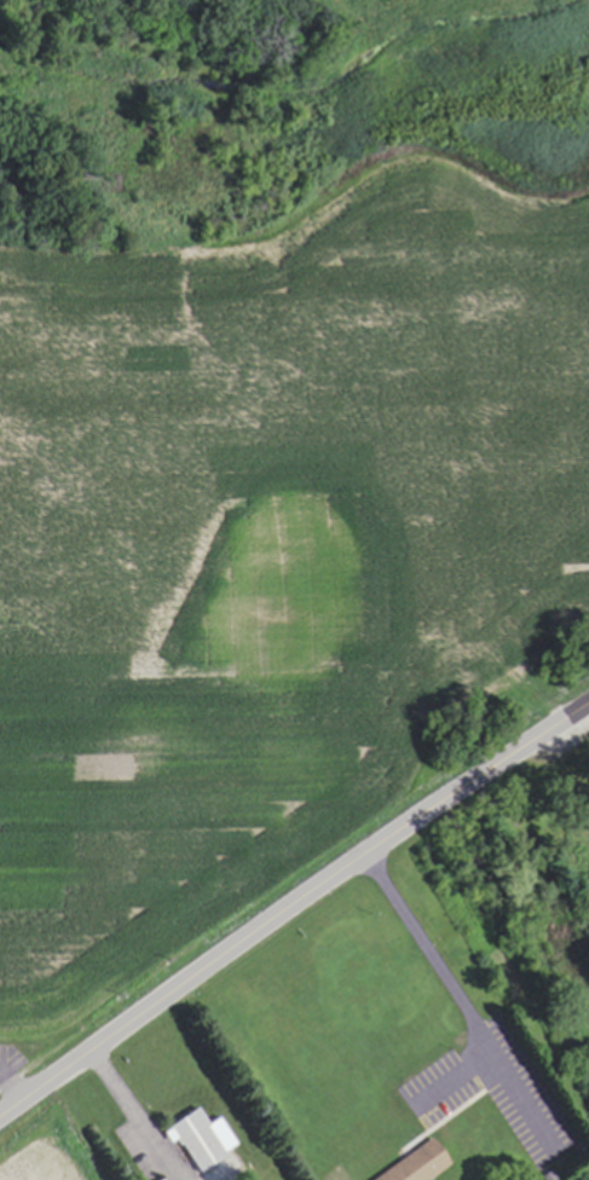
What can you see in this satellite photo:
road: (582, 716)
road: (290, 906)
road: (456, 996)
road: (11, 1088)
road: (134, 1116)
building: (198, 1139)
building: (415, 1164)

